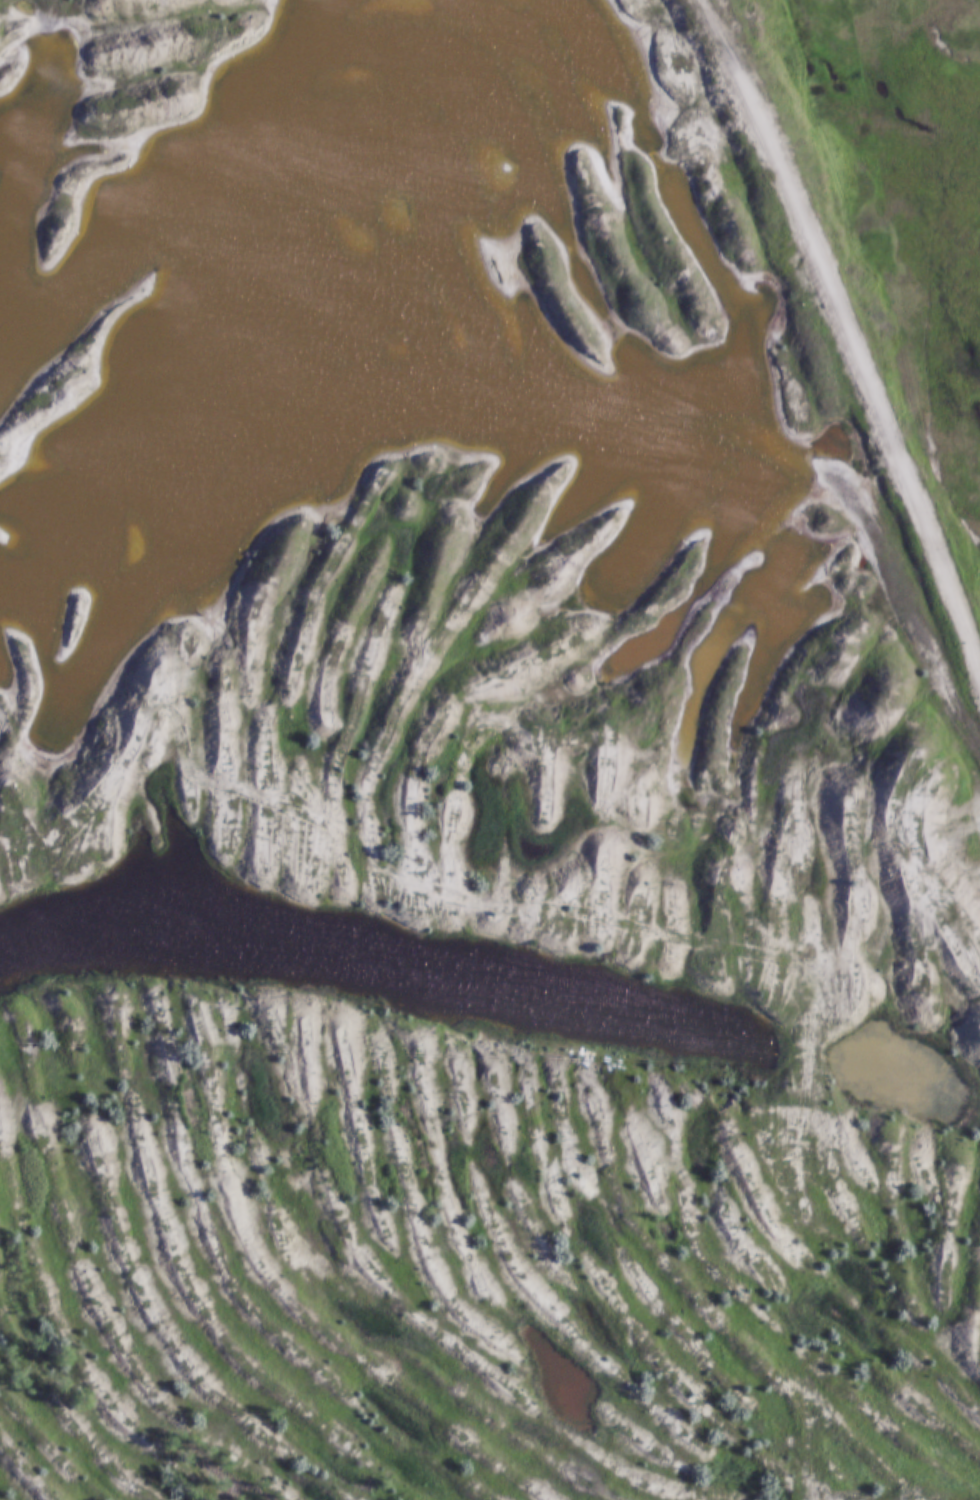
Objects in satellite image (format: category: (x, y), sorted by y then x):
road: (847, 328)
quarry: (471, 775)

